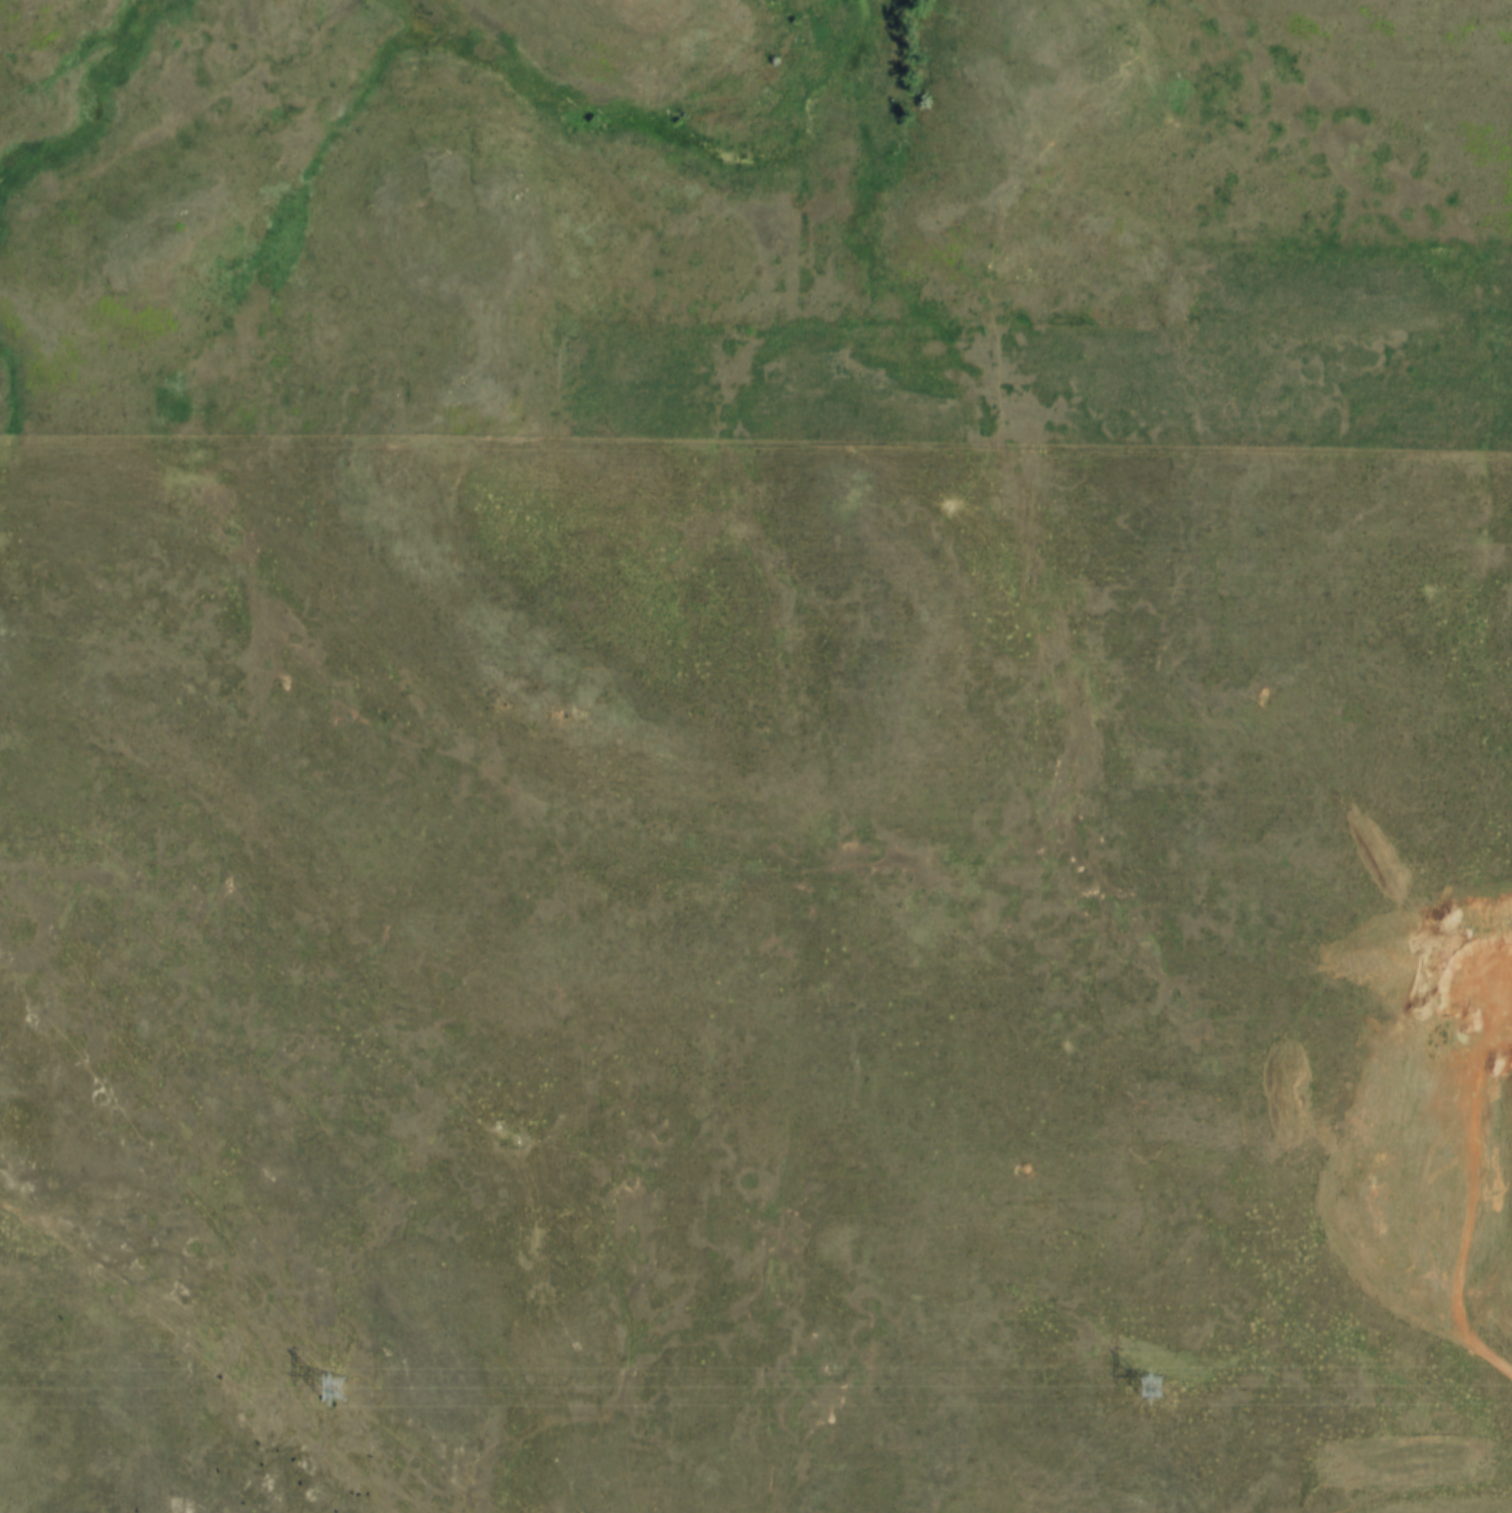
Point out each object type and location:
power tower: (1139, 1388)
power tower: (323, 1389)

